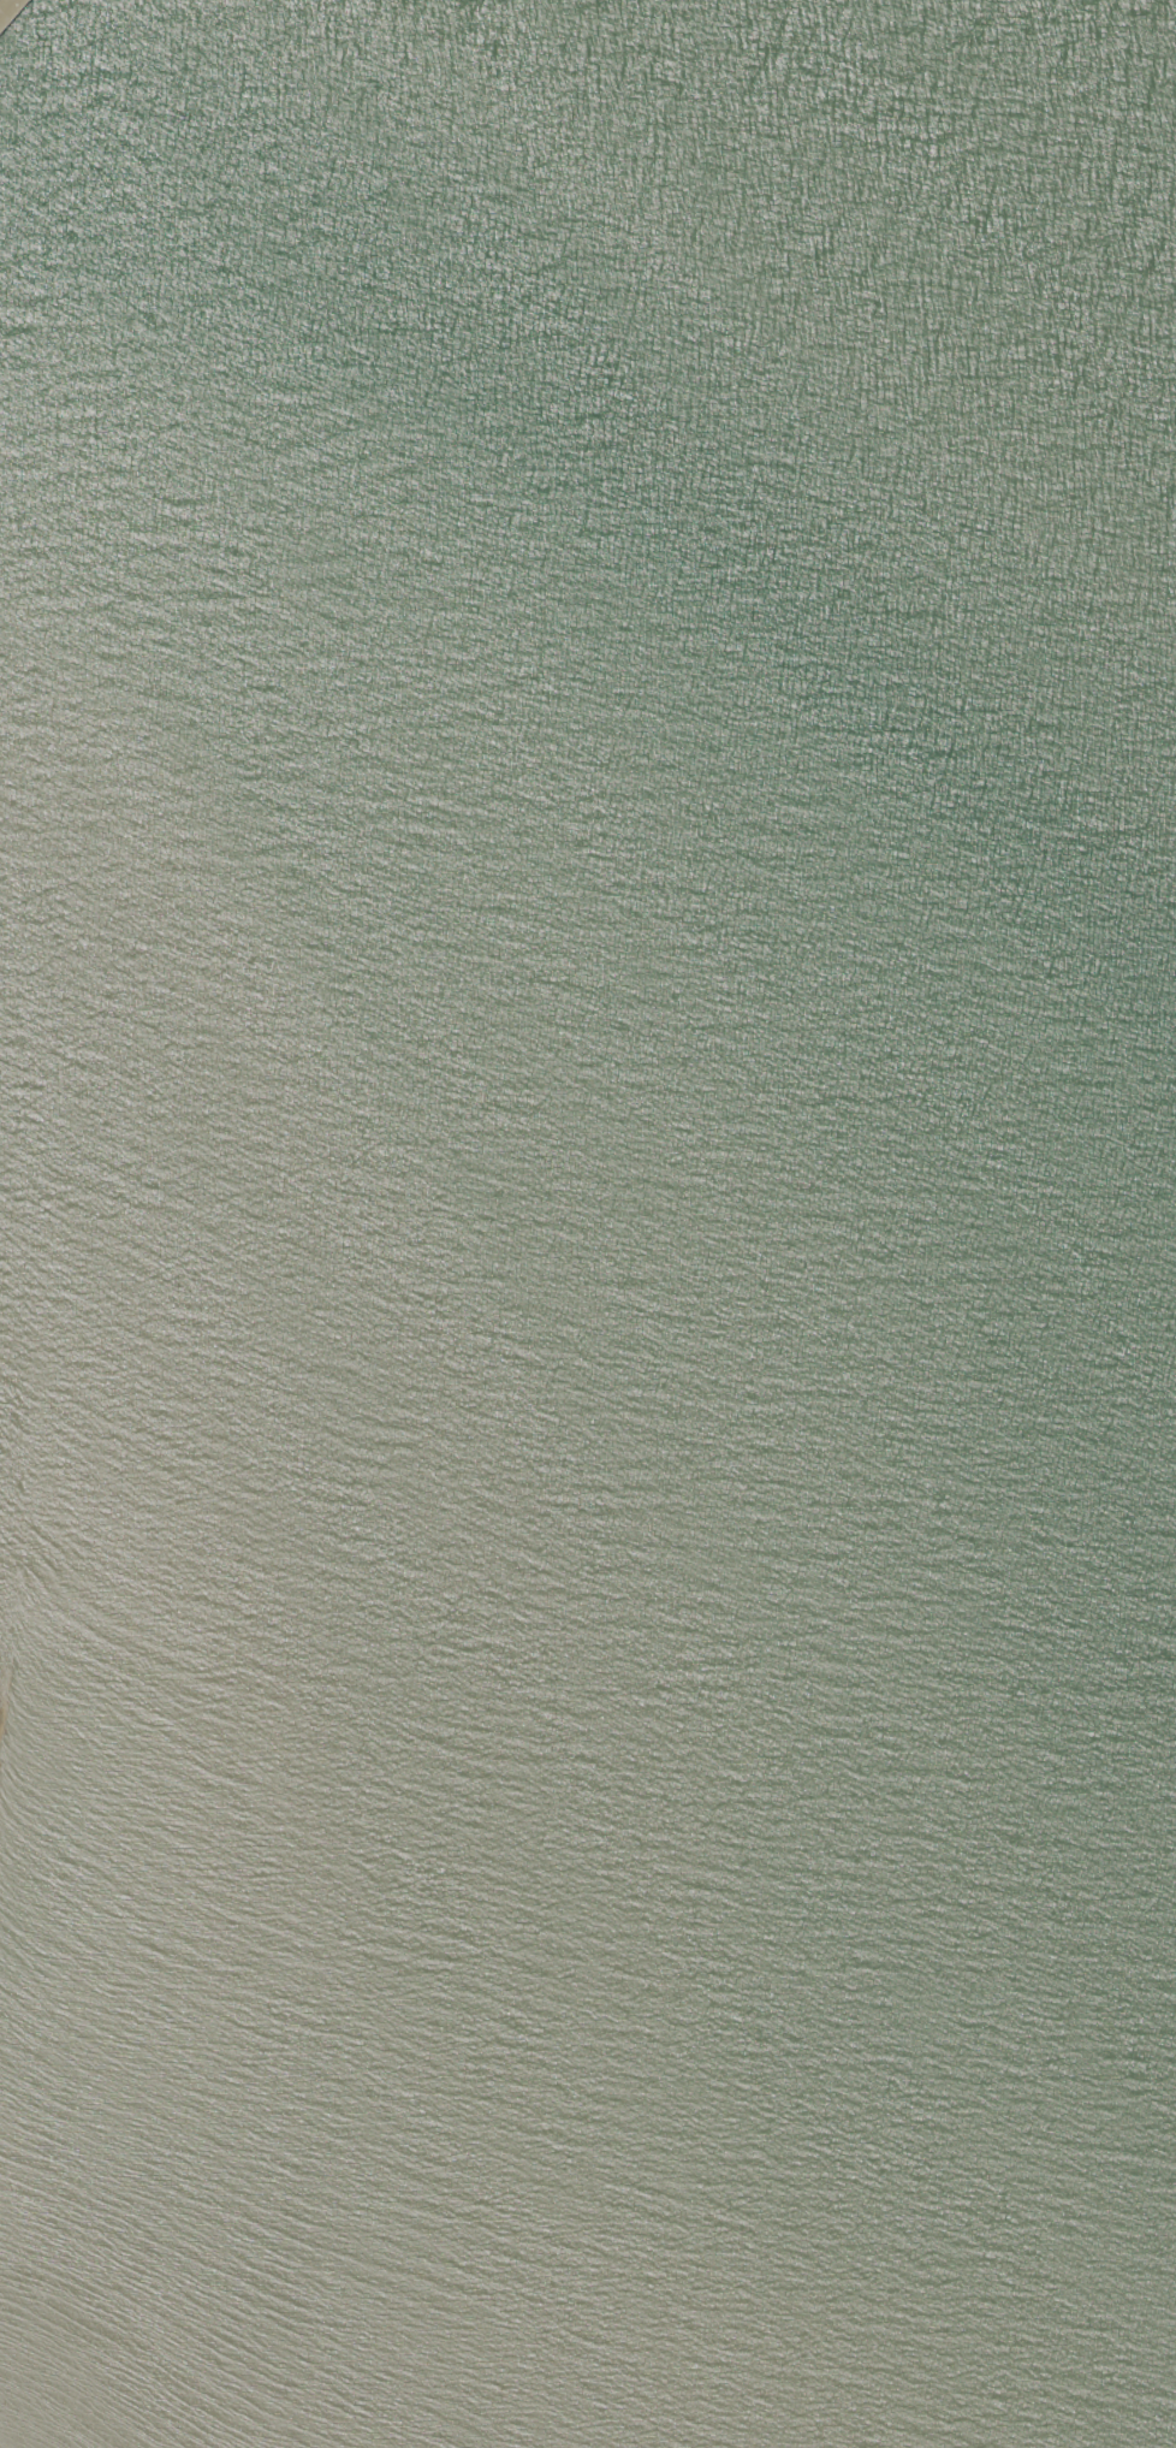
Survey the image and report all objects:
road: (4, 5)
pier: (7, 8)

